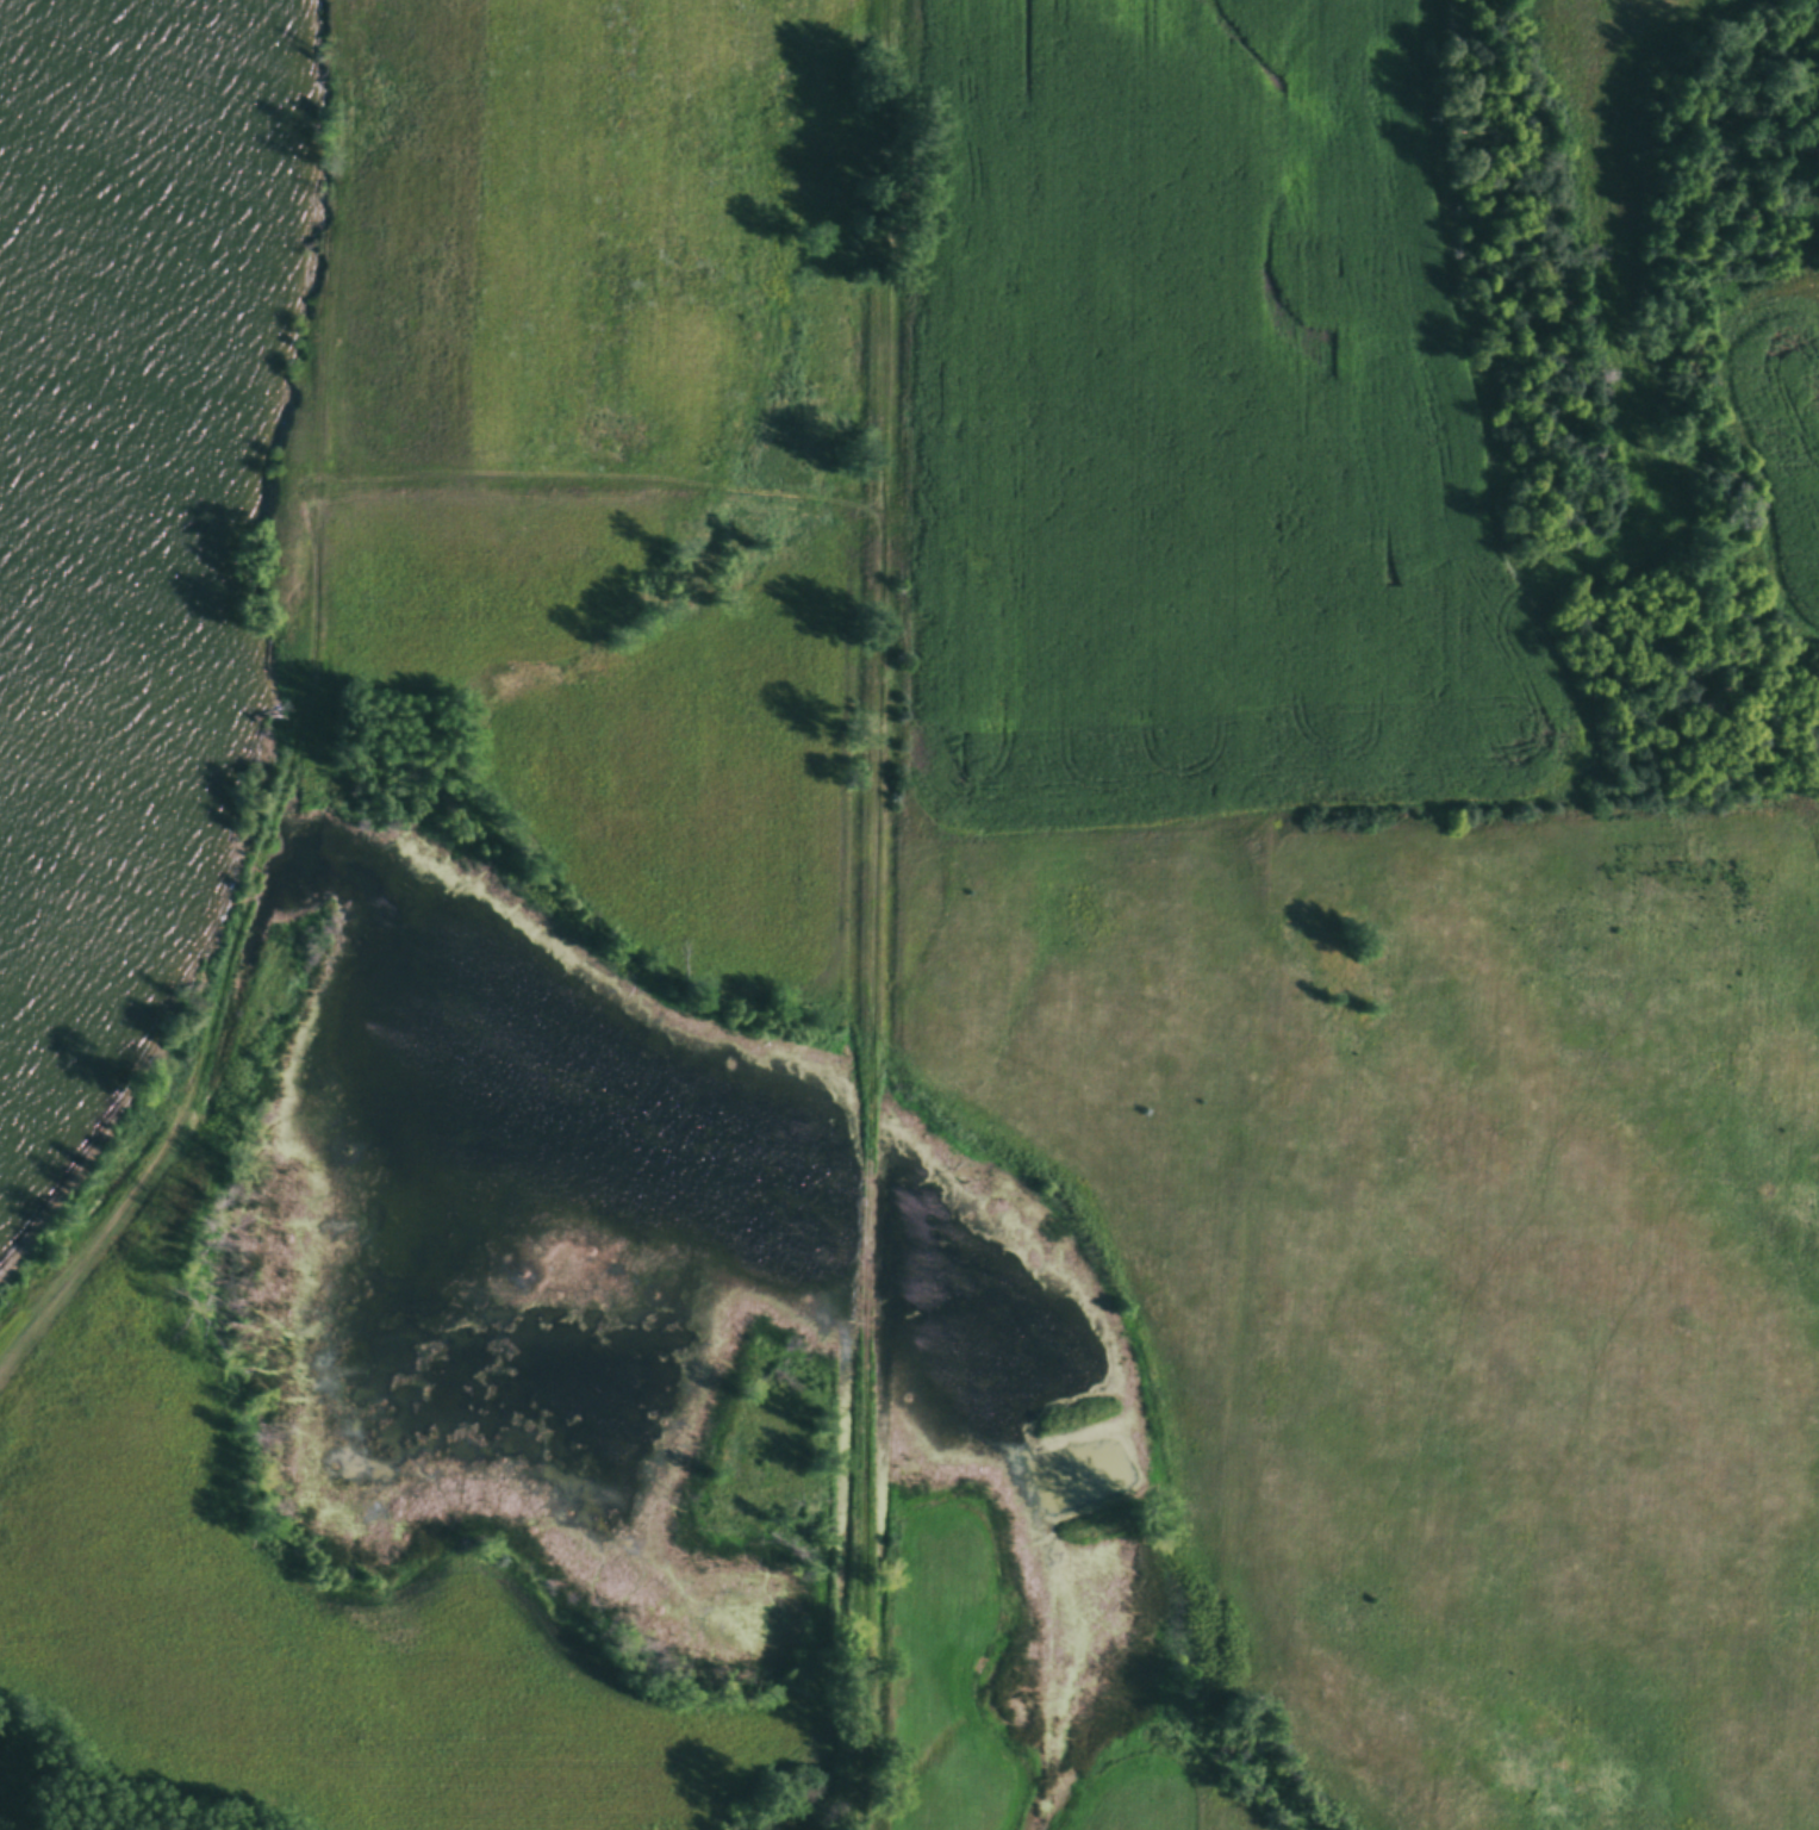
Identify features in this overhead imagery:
road: (599, 486)
road: (305, 716)
road: (874, 914)

